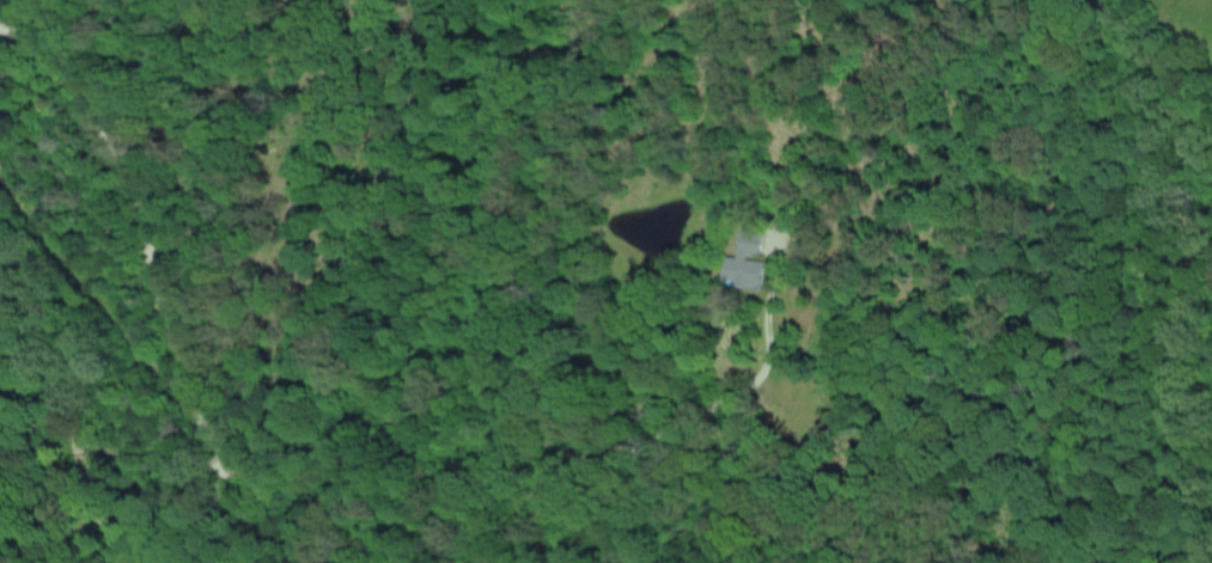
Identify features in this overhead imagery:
building: (743, 259)
road: (157, 279)

